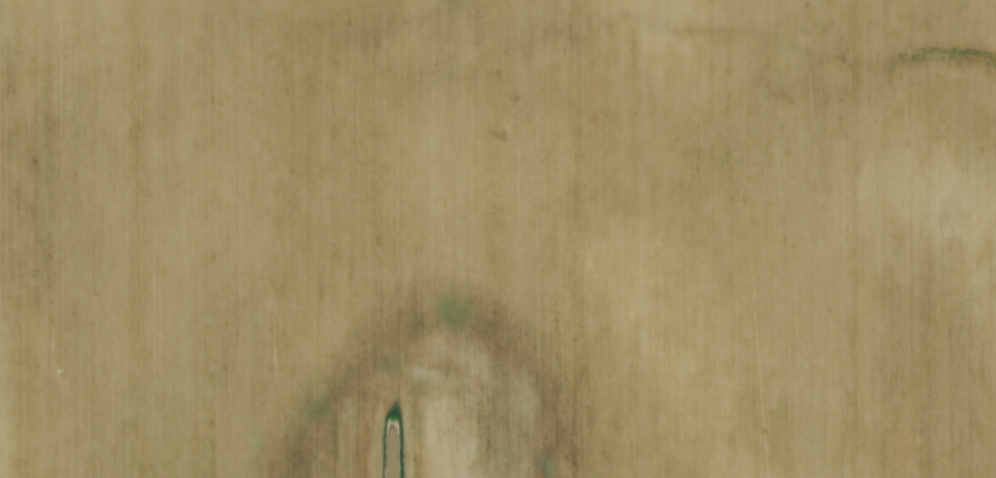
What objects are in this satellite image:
crop: (498, 239)

